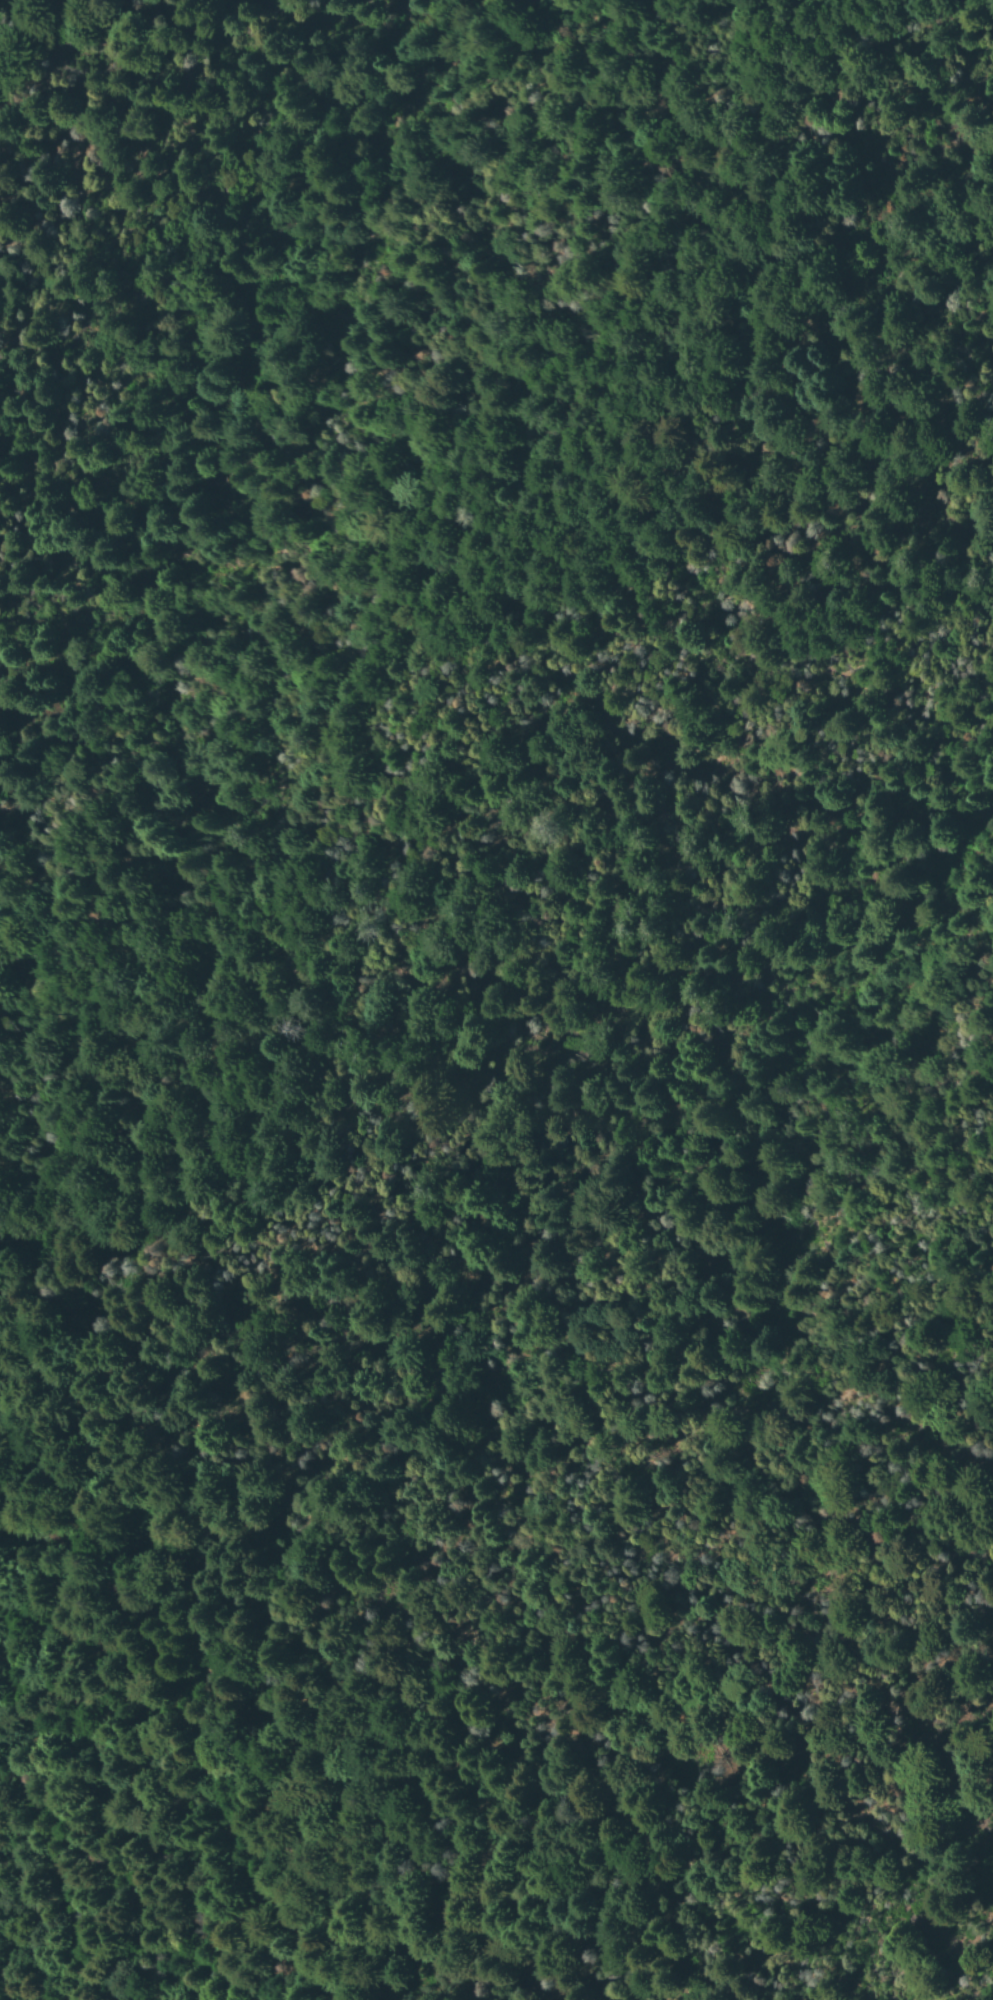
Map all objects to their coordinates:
road: (191, 1719)

